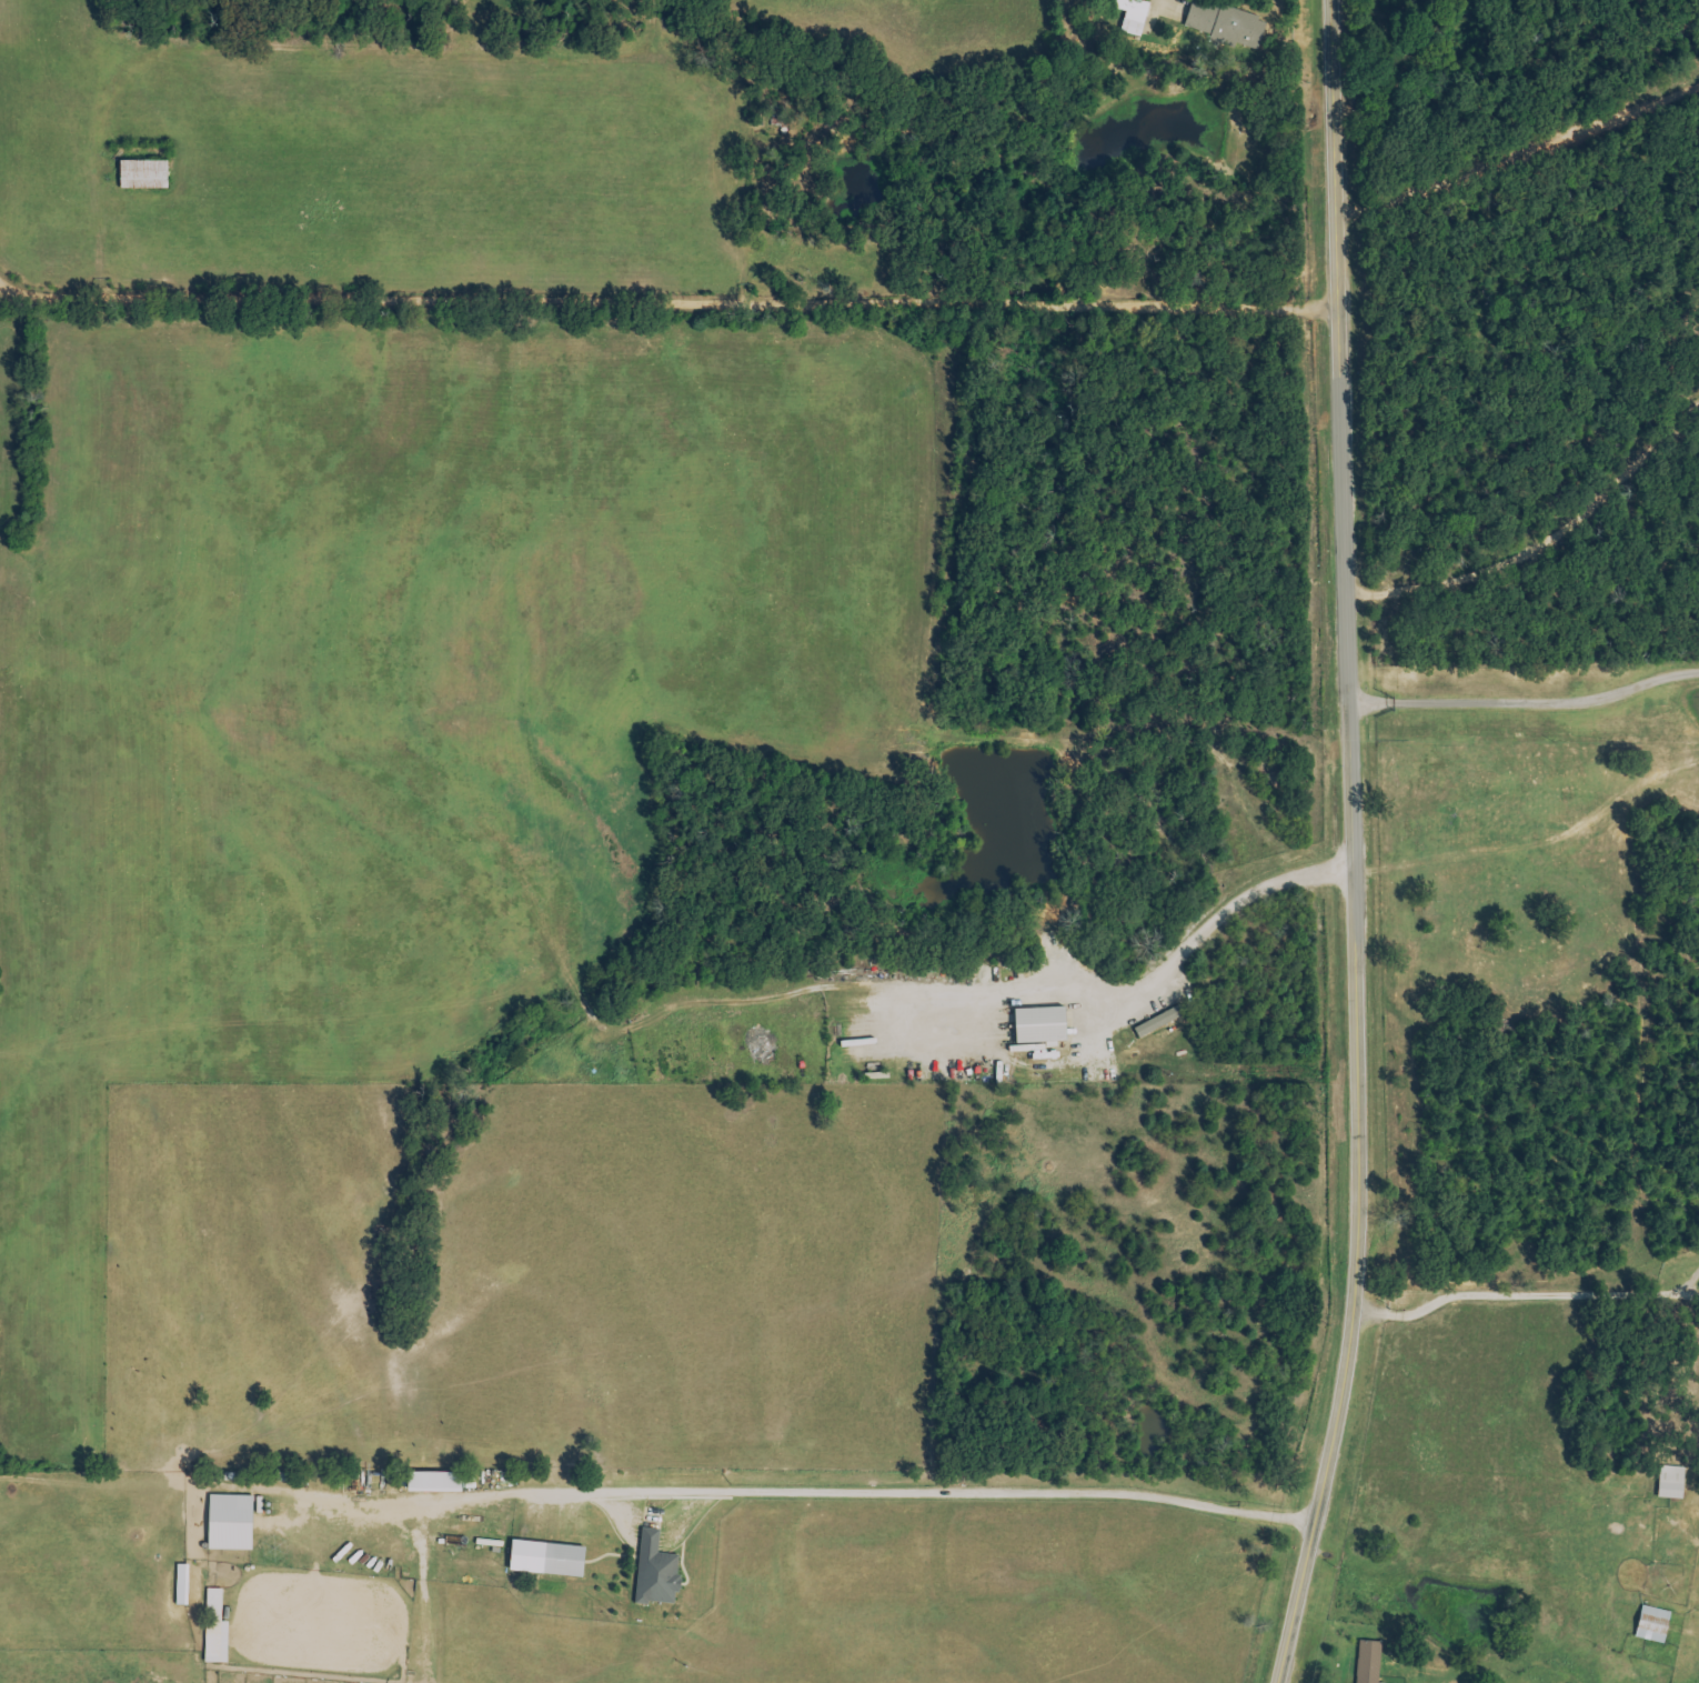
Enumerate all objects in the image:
building: (1133, 16)
building: (1225, 23)
road: (1520, 161)
road: (672, 283)
road: (1527, 708)
road: (1354, 845)
road: (1209, 918)
building: (1039, 1030)
road: (1531, 1292)
building: (434, 1481)
building: (1671, 1482)
road: (852, 1497)
building: (230, 1522)
building: (546, 1557)
building: (656, 1571)
building: (182, 1584)
building: (1653, 1624)
building: (215, 1629)
building: (1368, 1661)

